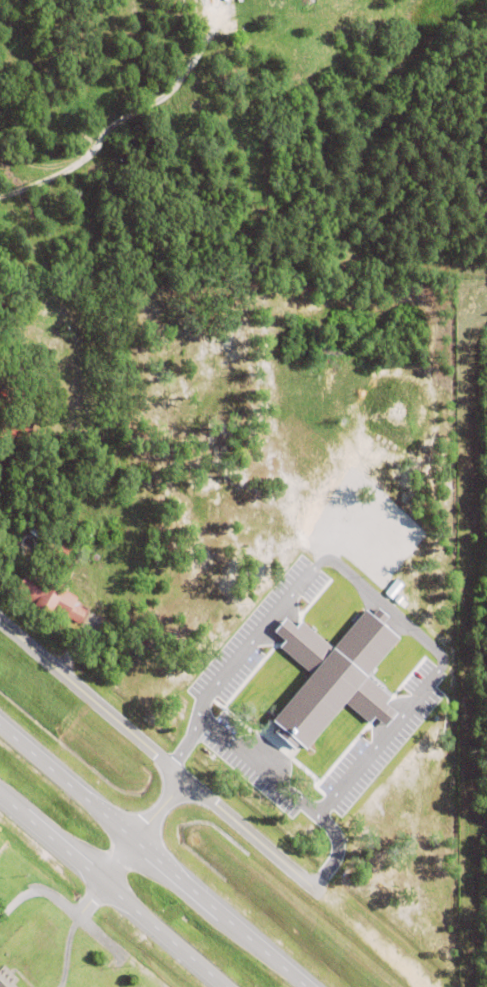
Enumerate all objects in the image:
building: (223, 15)
road: (148, 101)
building: (254, 123)
building: (99, 286)
building: (5, 301)
building: (2, 398)
building: (46, 417)
building: (16, 422)
building: (38, 528)
building: (57, 549)
road: (360, 585)
building: (50, 599)
building: (334, 678)
building: (404, 730)
road: (156, 756)
road: (257, 760)
building: (337, 781)
building: (370, 815)
road: (129, 848)
road: (332, 850)
road: (150, 856)
road: (111, 892)
building: (6, 978)

